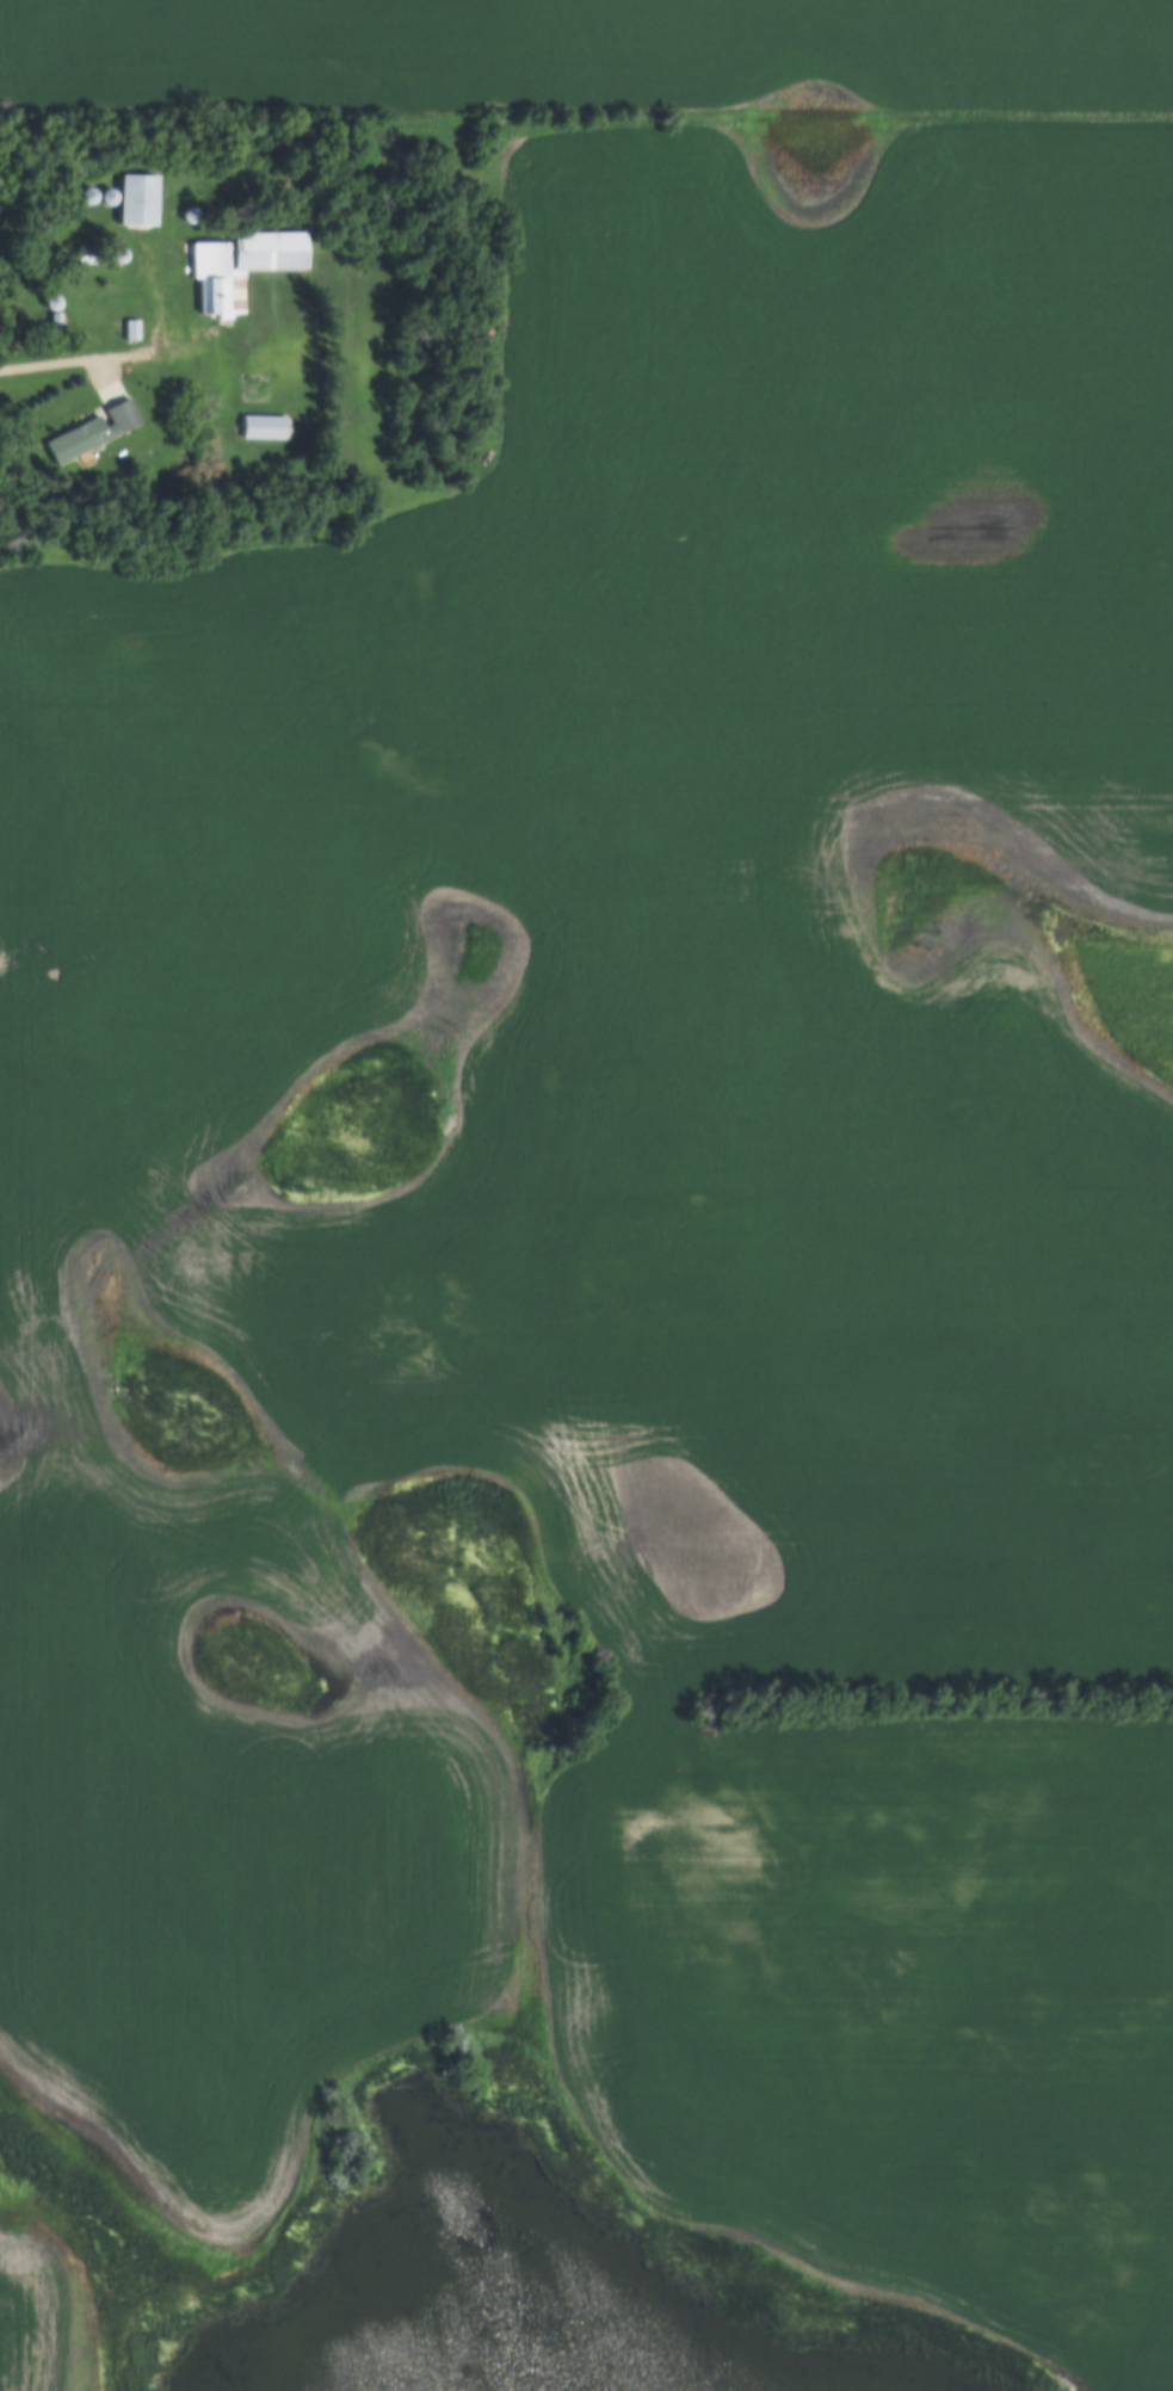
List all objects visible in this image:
building: (105, 194)
silo: (105, 194)
building: (85, 196)
silo: (85, 196)
building: (135, 199)
building: (190, 215)
silo: (190, 215)
building: (271, 249)
building: (117, 254)
silo: (117, 254)
building: (91, 257)
building: (210, 274)
building: (50, 301)
silo: (50, 301)
building: (131, 328)
road: (81, 370)
building: (263, 427)
building: (91, 431)

